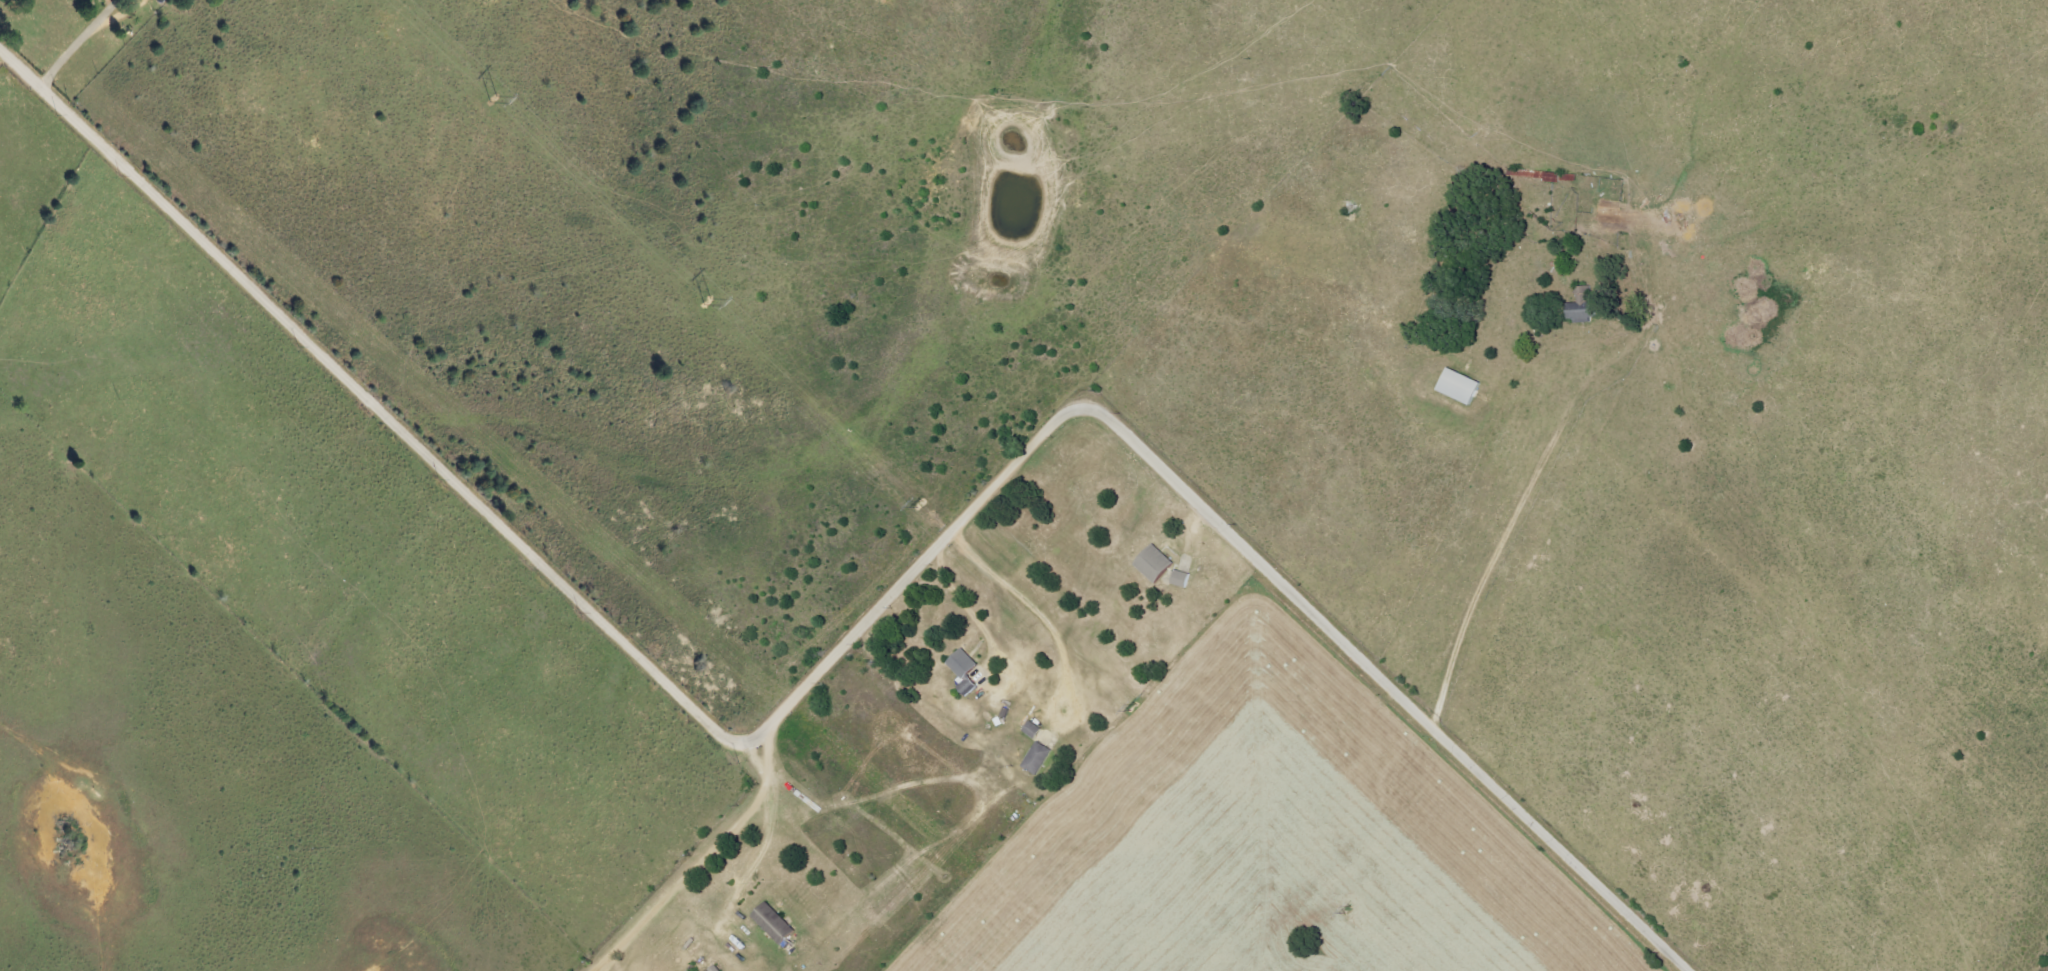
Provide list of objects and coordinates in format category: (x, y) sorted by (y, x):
road: (88, 37)
power tower: (483, 97)
road: (1581, 198)
building: (1612, 213)
power tower: (697, 299)
building: (1584, 306)
building: (1462, 386)
road: (1586, 462)
power tower: (915, 503)
building: (1143, 561)
building: (1155, 564)
building: (1182, 579)
road: (967, 613)
road: (1041, 619)
road: (856, 632)
building: (964, 664)
building: (969, 685)
power tower: (1125, 707)
building: (1035, 730)
building: (1039, 759)
road: (767, 838)
road: (697, 864)
power tower: (1342, 906)
building: (776, 924)
road: (596, 969)

